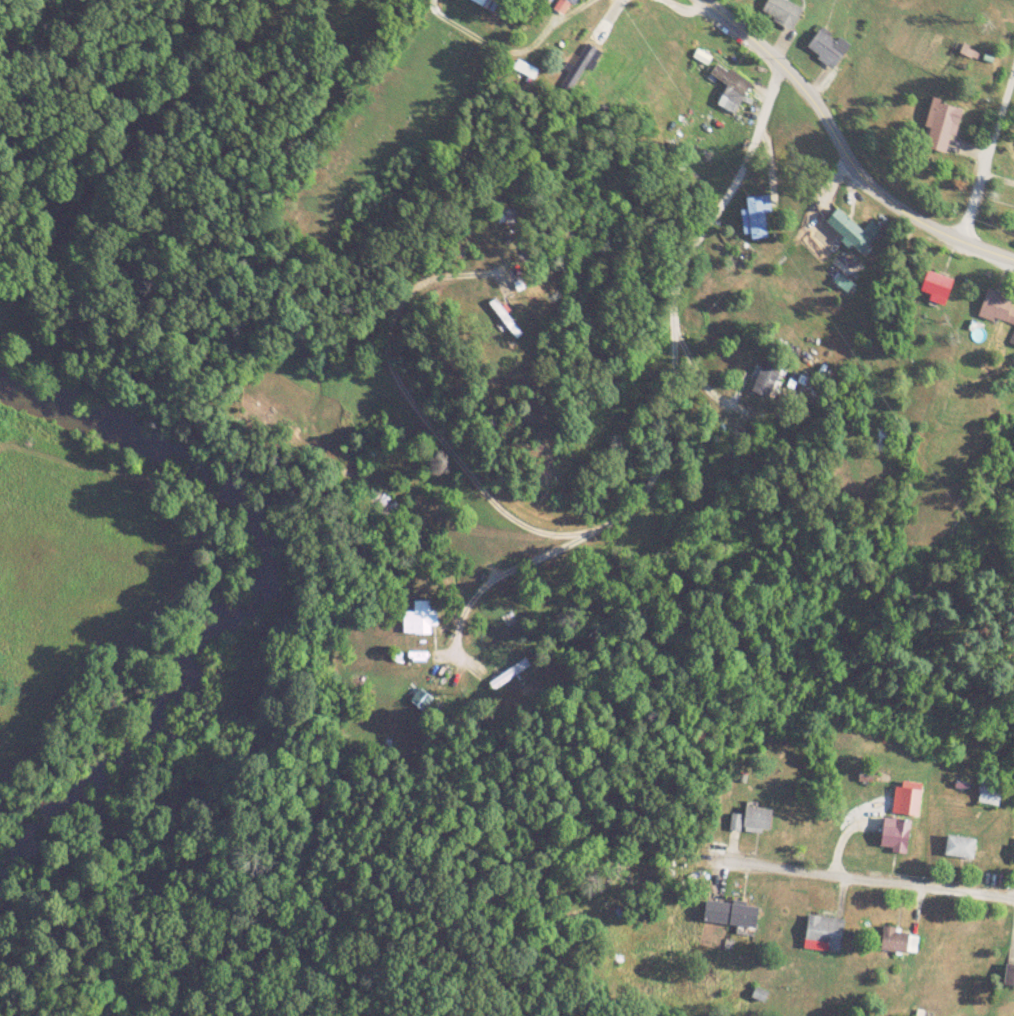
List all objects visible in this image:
building: (571, 2)
road: (680, 4)
building: (782, 12)
building: (826, 49)
road: (514, 54)
building: (966, 57)
building: (581, 65)
road: (780, 76)
building: (731, 88)
building: (941, 125)
road: (982, 147)
building: (756, 217)
building: (853, 229)
road: (929, 229)
building: (937, 286)
building: (998, 306)
building: (1013, 338)
building: (767, 377)
building: (884, 441)
building: (385, 505)
road: (604, 518)
building: (419, 618)
river: (259, 622)
building: (509, 675)
building: (421, 701)
building: (990, 794)
building: (757, 820)
building: (896, 835)
building: (961, 847)
road: (878, 883)
building: (733, 916)
building: (824, 934)
building: (900, 942)
building: (1010, 975)

